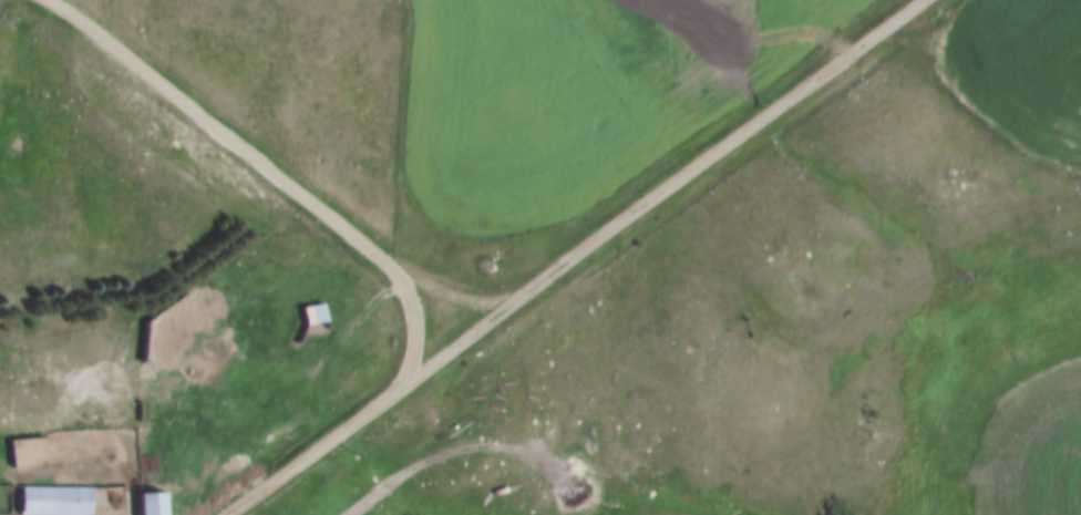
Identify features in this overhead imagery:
road: (655, 186)
road: (362, 243)
road: (454, 292)
building: (315, 316)
building: (55, 501)
building: (152, 503)

